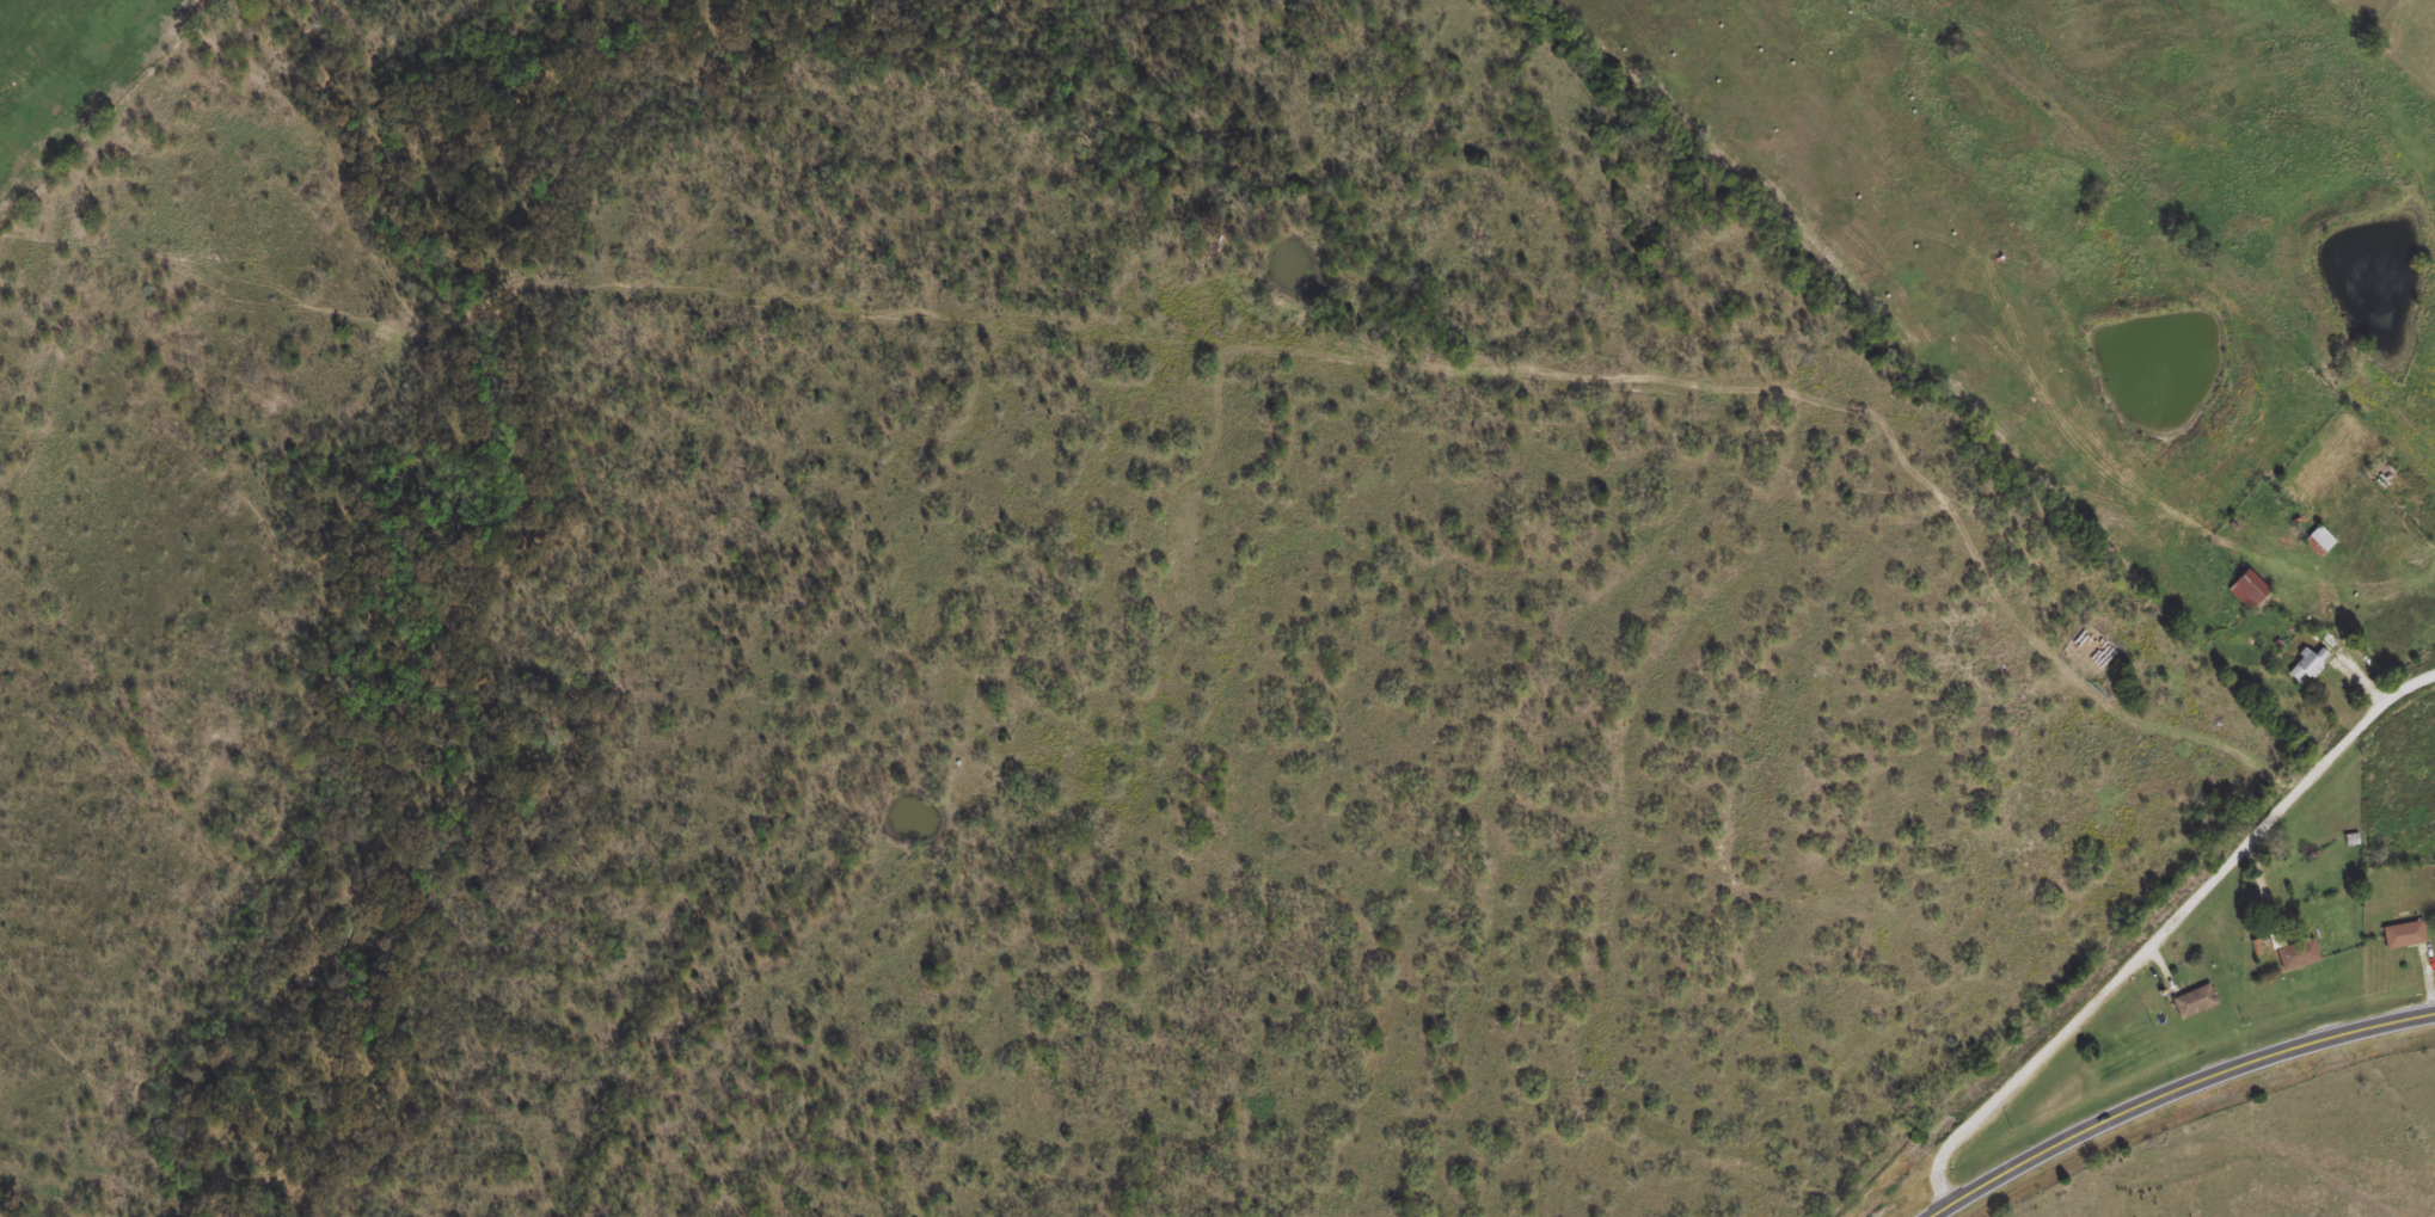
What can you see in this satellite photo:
building: (2317, 541)
building: (2246, 590)
building: (2307, 663)
road: (2164, 923)
building: (2404, 935)
building: (2298, 954)
building: (2195, 1001)
road: (2169, 1089)

